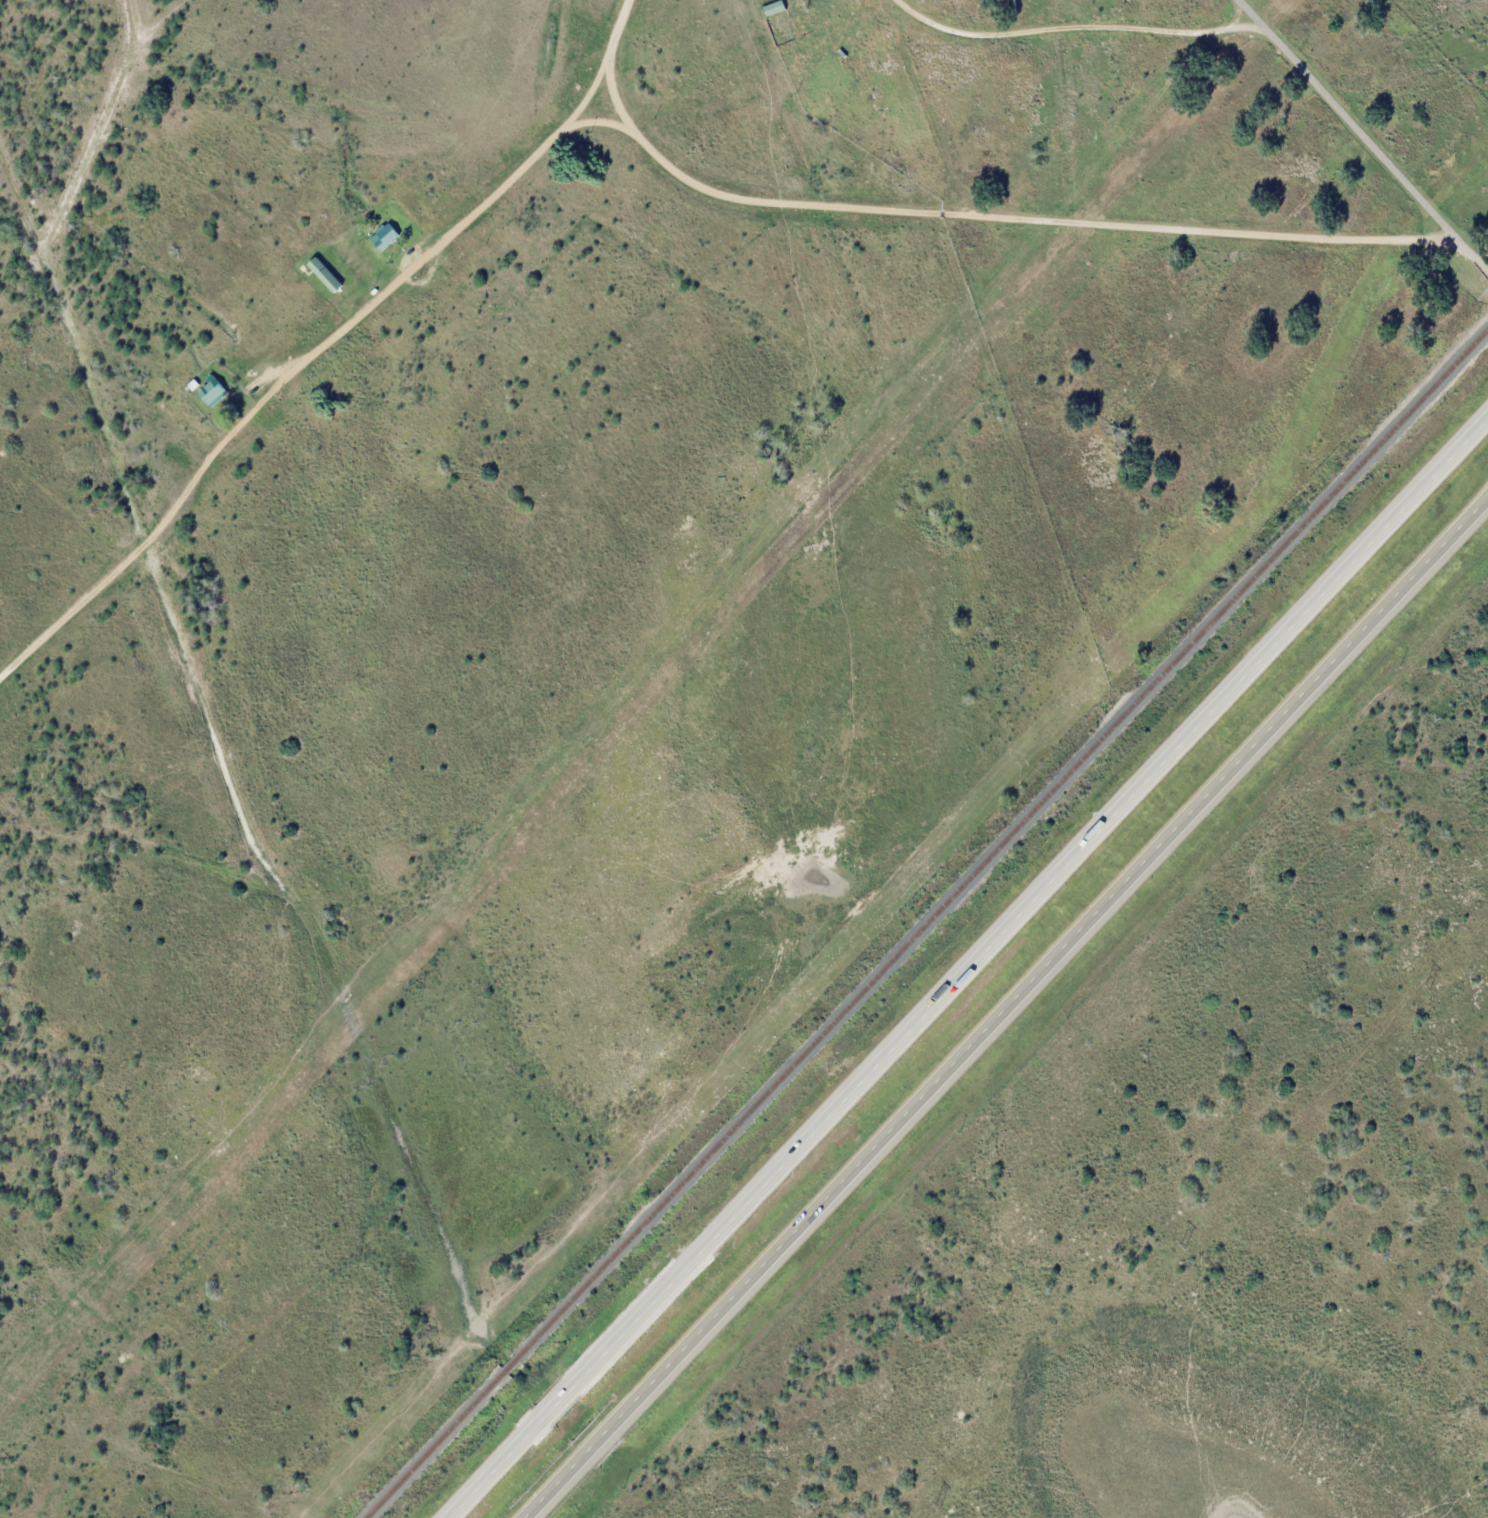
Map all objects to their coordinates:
road: (608, 52)
road: (1358, 136)
road: (1007, 218)
building: (385, 237)
building: (324, 275)
building: (210, 391)
railway: (926, 924)
road: (971, 970)
power tower: (1429, 986)
road: (1008, 1008)
power tower: (1184, 1245)
building: (672, 1272)
power tower: (939, 1506)

